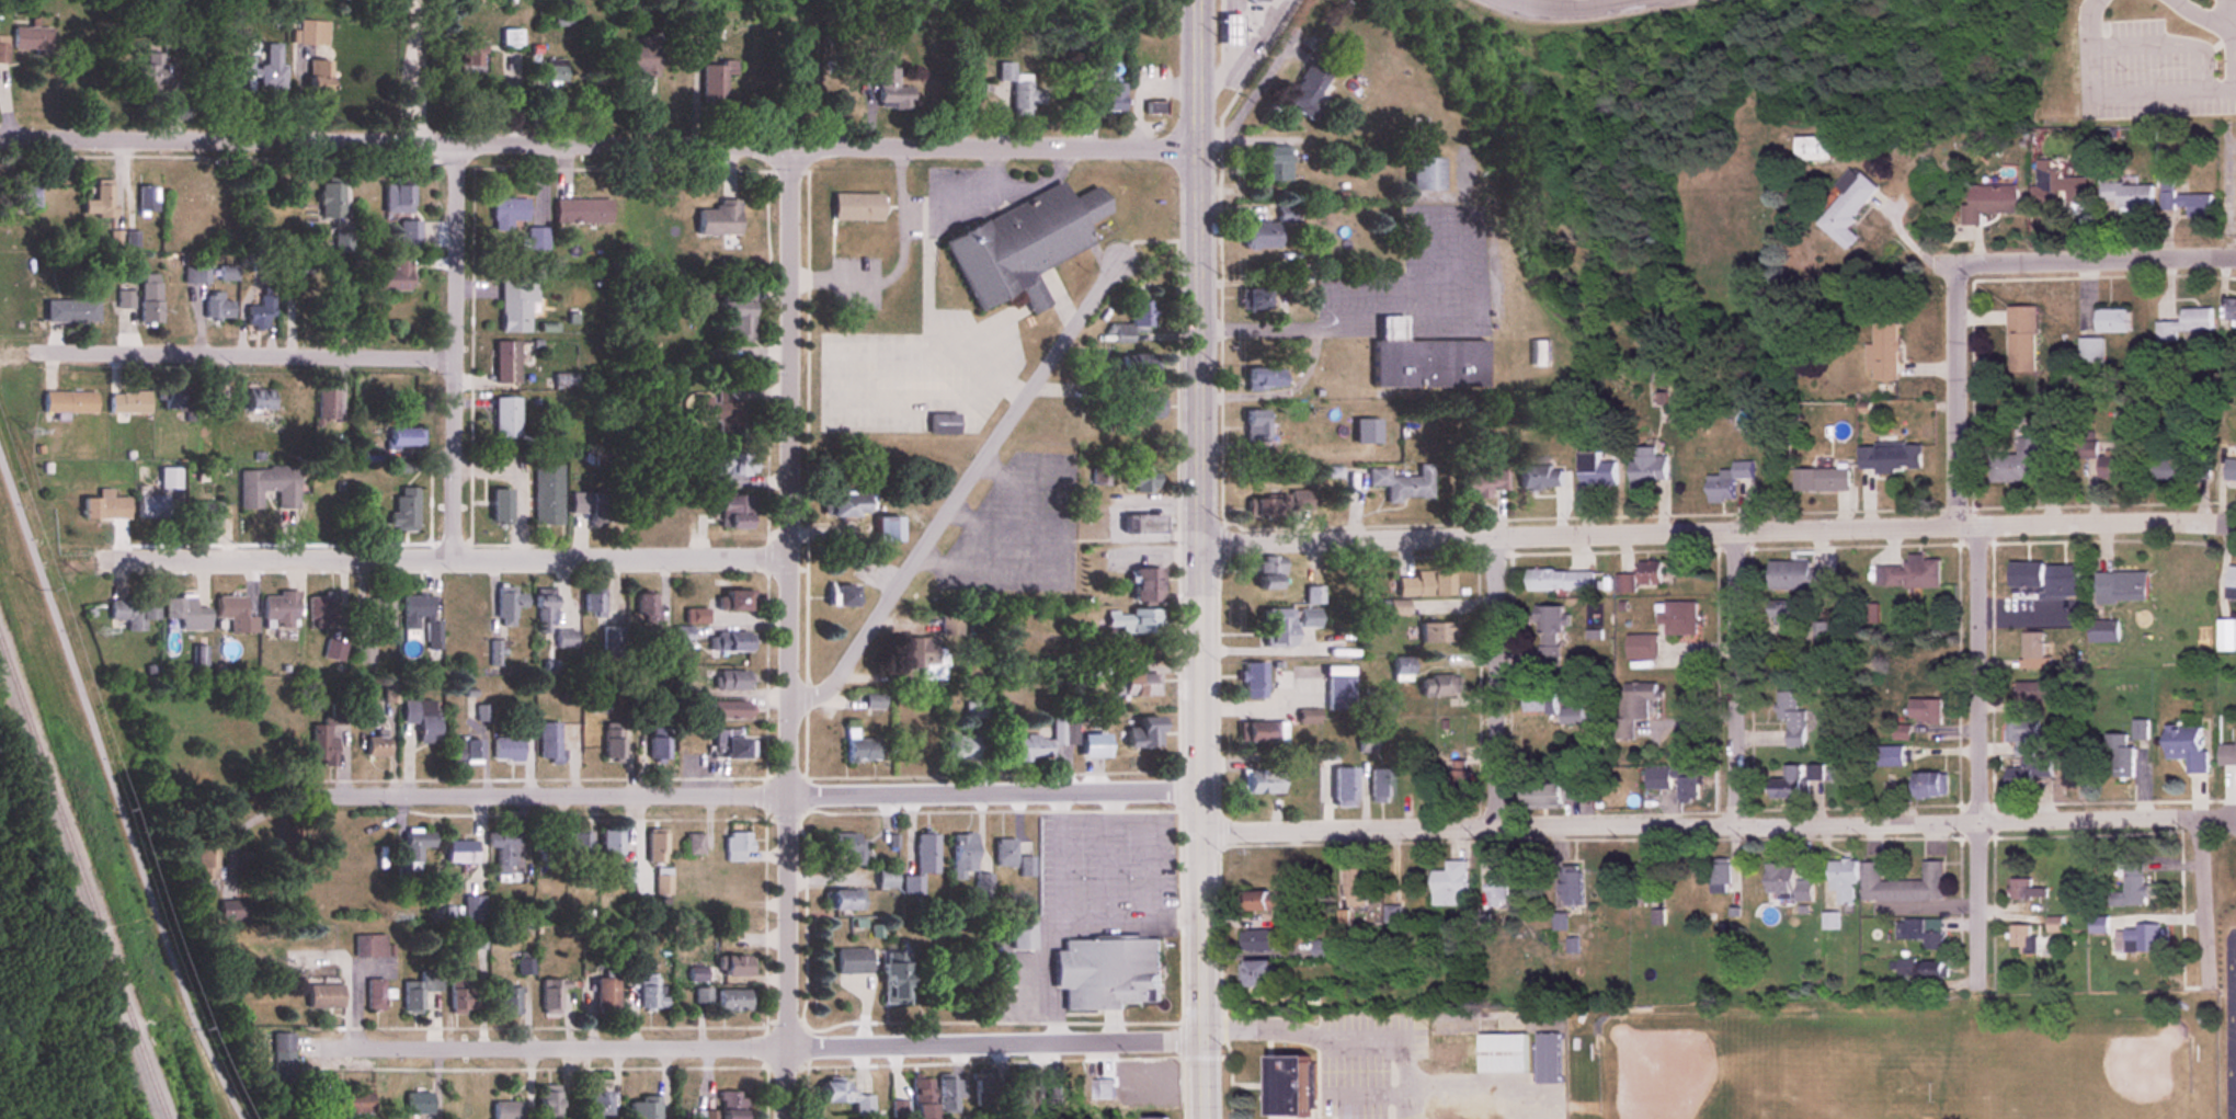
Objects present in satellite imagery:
building: (1257, 0)
road: (2171, 1)
road: (1574, 8)
road: (2225, 16)
building: (555, 19)
building: (1229, 30)
building: (311, 33)
road: (2221, 34)
building: (31, 38)
building: (511, 38)
road: (2234, 42)
road: (2167, 46)
road: (2086, 47)
building: (3, 49)
building: (469, 52)
building: (639, 58)
building: (263, 68)
building: (554, 71)
building: (148, 72)
road: (1199, 73)
building: (318, 78)
building: (714, 82)
building: (887, 82)
building: (1311, 84)
building: (1019, 90)
road: (2161, 94)
building: (1111, 96)
building: (1153, 106)
road: (600, 140)
building: (1813, 148)
building: (1274, 163)
building: (1425, 174)
building: (2058, 187)
building: (2166, 194)
building: (2127, 195)
building: (27, 196)
building: (330, 198)
building: (147, 199)
building: (397, 199)
building: (101, 202)
building: (1990, 202)
building: (2194, 205)
building: (1847, 206)
building: (856, 207)
building: (193, 210)
building: (582, 210)
building: (507, 214)
building: (718, 219)
building: (409, 235)
building: (1259, 235)
building: (537, 239)
building: (342, 242)
building: (1023, 246)
road: (1914, 248)
road: (2097, 256)
building: (304, 264)
road: (456, 271)
building: (197, 273)
building: (227, 273)
building: (393, 277)
building: (148, 298)
building: (1255, 299)
building: (124, 300)
building: (516, 305)
building: (216, 306)
building: (70, 311)
building: (2231, 311)
building: (261, 312)
building: (737, 317)
building: (2111, 321)
building: (1133, 322)
building: (2183, 324)
road: (1284, 327)
building: (2020, 345)
building: (2090, 351)
building: (1883, 352)
road: (242, 353)
building: (1540, 353)
building: (1424, 361)
building: (506, 363)
building: (1130, 364)
building: (1264, 379)
road: (1282, 390)
road: (1955, 390)
building: (258, 401)
building: (68, 402)
building: (178, 402)
building: (128, 403)
building: (326, 406)
building: (1138, 406)
building: (719, 414)
building: (507, 418)
building: (940, 424)
building: (1256, 427)
building: (1362, 432)
building: (406, 438)
building: (1890, 458)
building: (2022, 459)
building: (2182, 465)
building: (2114, 467)
building: (1645, 468)
building: (728, 469)
building: (1596, 470)
building: (2231, 471)
building: (1540, 477)
building: (1137, 479)
building: (1727, 480)
building: (1822, 480)
building: (1481, 482)
building: (1403, 484)
building: (267, 488)
road: (963, 490)
building: (548, 495)
building: (847, 505)
building: (1278, 505)
building: (152, 507)
building: (501, 507)
building: (590, 507)
building: (104, 509)
building: (404, 510)
building: (734, 512)
building: (205, 514)
building: (1140, 524)
road: (1723, 529)
building: (888, 530)
road: (448, 559)
building: (1269, 572)
building: (1650, 573)
building: (1909, 574)
building: (1796, 576)
building: (2026, 576)
building: (1560, 581)
building: (2063, 582)
building: (2231, 583)
building: (1624, 584)
building: (1425, 585)
building: (1145, 586)
building: (2121, 589)
building: (1314, 596)
building: (841, 597)
building: (738, 602)
building: (596, 603)
building: (509, 605)
building: (279, 608)
building: (647, 609)
building: (379, 610)
building: (415, 612)
building: (133, 613)
building: (322, 613)
building: (186, 614)
building: (1789, 614)
building: (235, 615)
building: (1678, 618)
building: (552, 619)
building: (1133, 620)
building: (1277, 629)
building: (2103, 631)
road: (790, 632)
road: (1206, 632)
building: (1435, 632)
building: (683, 635)
building: (2227, 636)
building: (434, 637)
building: (1549, 640)
building: (730, 642)
building: (613, 643)
building: (1641, 648)
building: (933, 649)
building: (2032, 649)
building: (365, 654)
building: (1402, 670)
road: (1735, 674)
building: (733, 680)
road: (1494, 680)
building: (1254, 682)
building: (1138, 685)
building: (1439, 686)
building: (2033, 693)
building: (1339, 694)
building: (874, 701)
building: (1537, 703)
building: (1634, 708)
building: (730, 709)
building: (974, 710)
building: (1925, 712)
building: (1308, 716)
building: (1572, 717)
building: (1791, 718)
building: (423, 719)
building: (1142, 733)
building: (1264, 733)
building: (1902, 733)
building: (613, 742)
building: (551, 743)
building: (324, 744)
building: (730, 744)
building: (1037, 745)
building: (376, 746)
building: (1092, 746)
building: (860, 747)
building: (959, 747)
building: (2187, 747)
building: (507, 750)
building: (659, 750)
road: (1978, 751)
building: (467, 752)
building: (1903, 754)
building: (2227, 754)
building: (2120, 755)
building: (2022, 756)
building: (1674, 781)
building: (1262, 783)
building: (1461, 783)
building: (1787, 783)
building: (1380, 786)
building: (1930, 786)
building: (1343, 788)
road: (766, 790)
road: (115, 792)
building: (1553, 795)
road: (2217, 815)
road: (1107, 817)
road: (1699, 821)
building: (695, 844)
building: (612, 846)
building: (413, 847)
building: (738, 847)
building: (847, 847)
building: (579, 848)
building: (655, 848)
building: (461, 853)
building: (1002, 853)
building: (548, 854)
building: (924, 854)
building: (961, 855)
building: (503, 856)
building: (1265, 863)
building: (205, 866)
road: (1109, 869)
railway: (81, 875)
building: (628, 875)
building: (1719, 877)
building: (886, 879)
building: (663, 881)
building: (1843, 881)
building: (1354, 884)
building: (1450, 884)
building: (1786, 884)
building: (911, 886)
building: (1642, 886)
building: (1902, 886)
building: (2131, 887)
building: (1497, 888)
building: (2026, 891)
building: (1571, 893)
road: (2204, 897)
building: (844, 901)
building: (1265, 902)
building: (475, 909)
road: (1065, 923)
building: (2098, 925)
building: (1920, 933)
building: (1022, 935)
building: (2019, 937)
building: (2142, 939)
building: (1258, 941)
building: (369, 946)
building: (1324, 949)
building: (851, 961)
building: (523, 967)
building: (737, 968)
building: (1106, 974)
building: (1260, 975)
building: (891, 984)
building: (419, 991)
building: (652, 993)
building: (375, 995)
building: (555, 996)
building: (606, 996)
building: (323, 997)
building: (460, 997)
building: (510, 1002)
building: (734, 1002)
road: (1348, 1031)
road: (757, 1046)
building: (281, 1047)
building: (1491, 1052)
building: (1547, 1059)
road: (2235, 1067)
building: (1142, 1077)
road: (1492, 1080)
building: (1288, 1085)
building: (1017, 1086)
building: (1052, 1087)
building: (980, 1089)
building: (1103, 1089)
road: (1365, 1091)
building: (946, 1094)
building: (844, 1097)
building: (917, 1098)
building: (2229, 1100)
building: (342, 1103)
building: (548, 1103)
building: (596, 1103)
building: (415, 1105)
building: (722, 1107)
building: (642, 1109)
building: (506, 1110)
building: (1468, 1116)
building: (1153, 1118)

